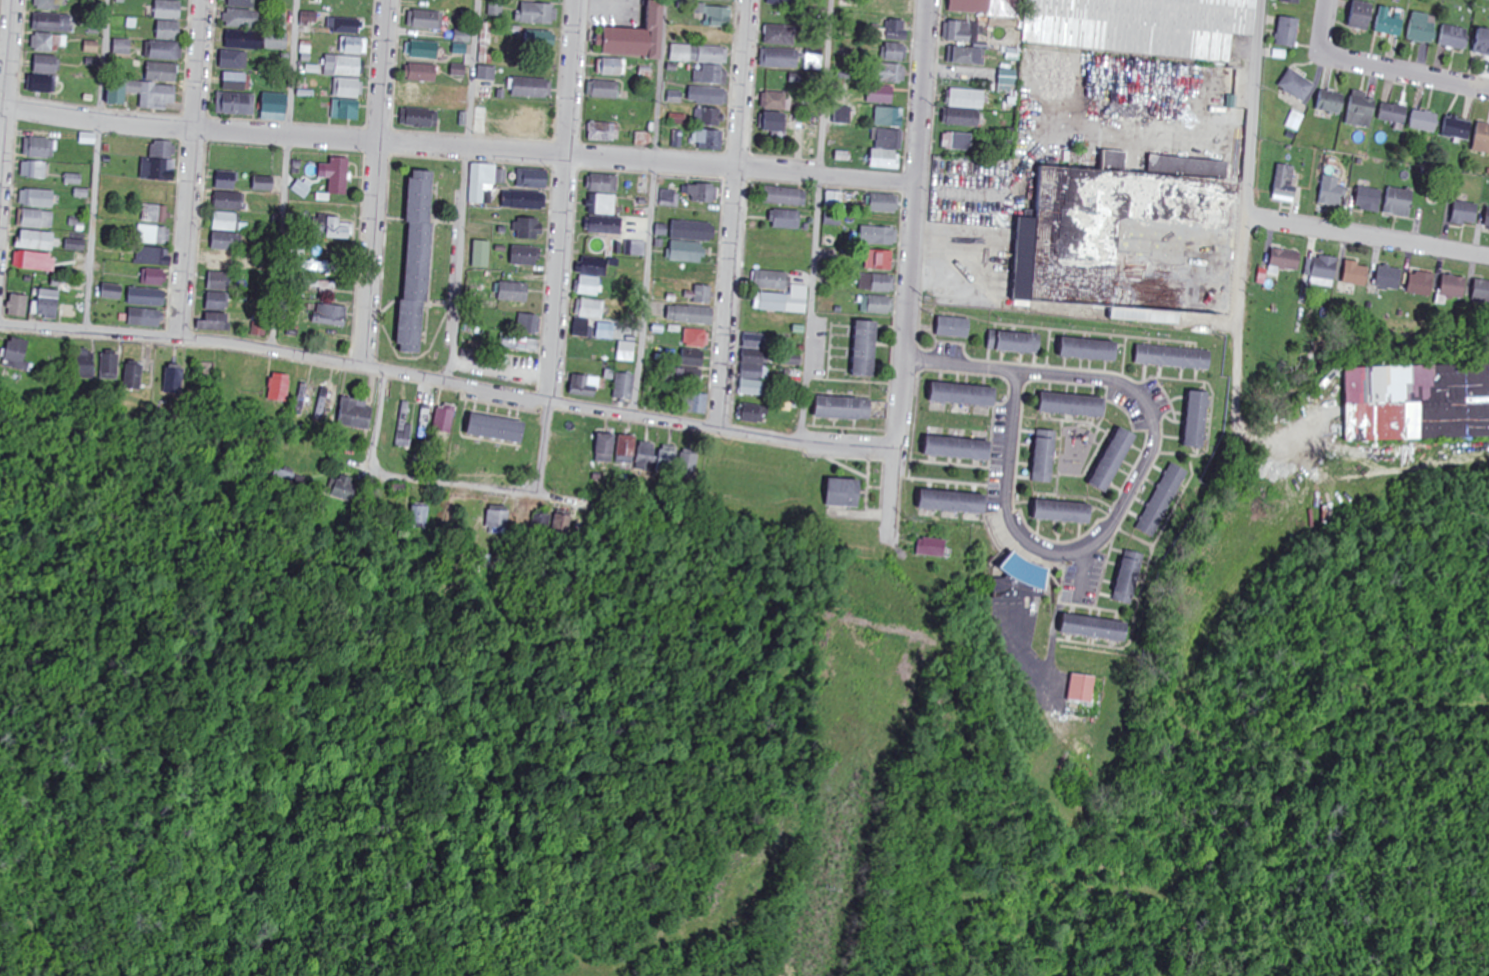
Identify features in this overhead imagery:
building: (1, 20)
building: (1139, 25)
road: (1379, 65)
road: (7, 92)
road: (1251, 111)
road: (457, 149)
road: (96, 165)
road: (192, 169)
road: (285, 175)
road: (375, 183)
road: (463, 191)
building: (1141, 199)
road: (649, 207)
road: (733, 215)
road: (814, 221)
road: (1367, 241)
road: (559, 247)
road: (909, 269)
road: (1239, 289)
road: (448, 382)
building: (1420, 402)
road: (1136, 480)
road: (461, 482)

